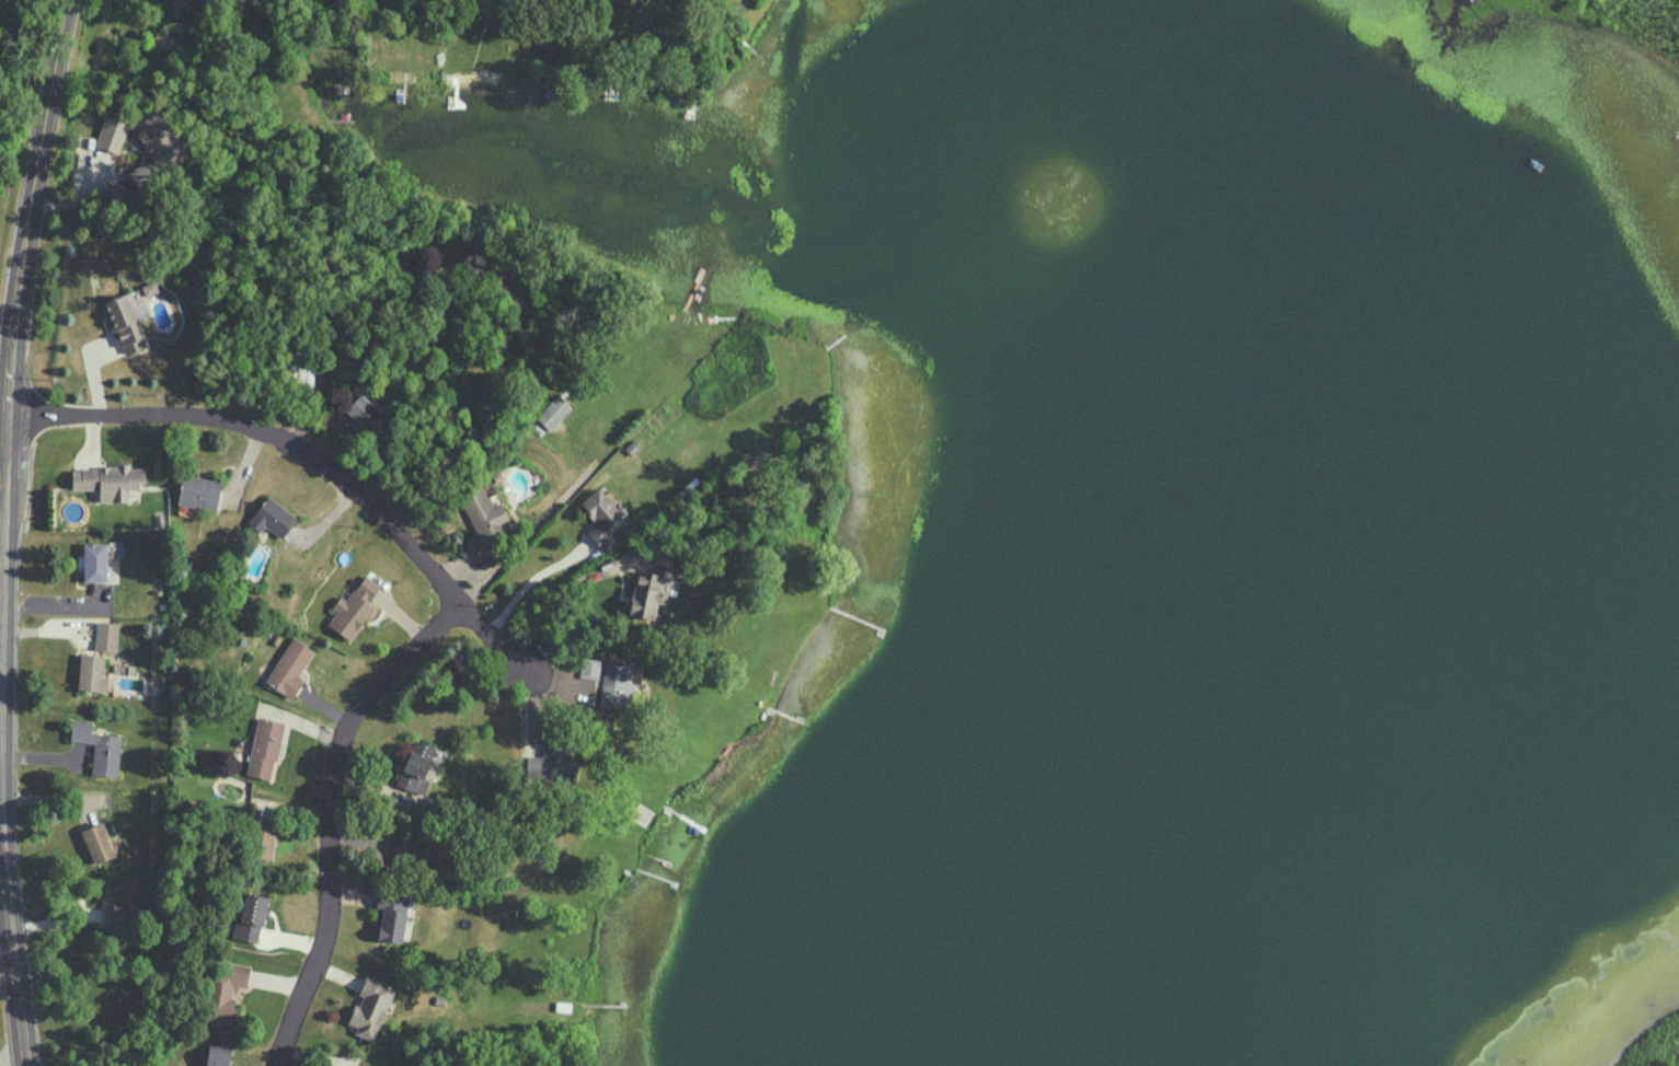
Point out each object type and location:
building: (175, 1)
building: (111, 134)
building: (153, 146)
building: (149, 287)
building: (363, 412)
building: (553, 412)
road: (314, 459)
road: (2, 478)
building: (108, 480)
building: (198, 491)
building: (271, 517)
building: (603, 518)
building: (483, 520)
road: (3, 531)
building: (94, 561)
road: (526, 586)
building: (647, 592)
road: (555, 596)
building: (353, 607)
building: (105, 636)
building: (289, 668)
building: (588, 668)
building: (91, 672)
building: (616, 684)
building: (97, 748)
building: (264, 748)
building: (551, 761)
building: (415, 766)
road: (327, 814)
building: (261, 841)
building: (97, 842)
building: (251, 914)
building: (120, 920)
building: (222, 990)
building: (369, 1007)
building: (217, 1055)

